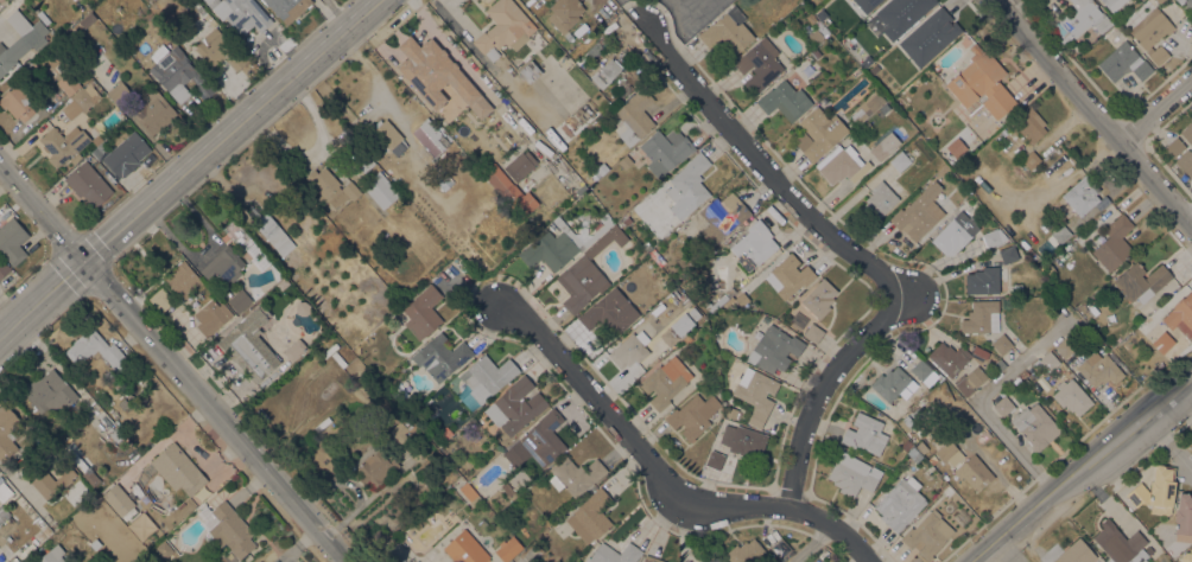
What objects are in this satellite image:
building: (1178, 0)
building: (1159, 1)
building: (1188, 2)
building: (866, 4)
building: (1112, 4)
road: (1004, 5)
building: (287, 7)
road: (686, 7)
building: (565, 13)
building: (240, 14)
building: (901, 14)
building: (1085, 18)
building: (88, 19)
building: (502, 28)
building: (728, 31)
building: (1150, 33)
building: (816, 36)
building: (930, 37)
building: (1114, 37)
building: (1063, 38)
building: (21, 39)
building: (595, 46)
building: (218, 49)
building: (816, 52)
building: (516, 60)
building: (1124, 62)
building: (759, 64)
building: (530, 71)
building: (177, 72)
building: (605, 72)
building: (437, 75)
building: (69, 83)
building: (982, 83)
building: (119, 91)
building: (82, 98)
building: (785, 101)
building: (17, 102)
building: (867, 106)
building: (886, 109)
building: (583, 110)
road: (1092, 110)
building: (153, 111)
road: (1158, 113)
building: (635, 116)
building: (1029, 124)
building: (818, 133)
building: (1187, 133)
building: (388, 136)
building: (430, 136)
building: (852, 138)
building: (63, 143)
building: (1174, 147)
building: (666, 149)
building: (880, 149)
building: (100, 151)
building: (127, 154)
building: (951, 155)
building: (900, 160)
building: (1031, 160)
building: (1186, 161)
building: (364, 162)
building: (626, 162)
building: (838, 162)
building: (521, 165)
road: (188, 166)
building: (943, 168)
road: (766, 171)
building: (596, 175)
building: (443, 180)
building: (88, 184)
building: (689, 186)
building: (331, 187)
building: (382, 190)
building: (509, 190)
building: (581, 190)
building: (1082, 194)
building: (879, 200)
road: (1188, 211)
building: (919, 212)
building: (584, 215)
building: (722, 217)
building: (627, 221)
building: (956, 232)
building: (1060, 234)
building: (274, 235)
building: (994, 236)
building: (12, 238)
building: (1114, 243)
building: (560, 244)
building: (754, 245)
building: (1009, 254)
building: (657, 257)
building: (223, 264)
building: (4, 268)
building: (1047, 268)
building: (341, 270)
building: (589, 270)
building: (788, 275)
building: (182, 279)
building: (983, 280)
building: (1141, 281)
building: (283, 282)
building: (819, 298)
building: (160, 299)
building: (741, 299)
building: (239, 300)
building: (303, 307)
building: (423, 312)
building: (609, 312)
building: (979, 315)
building: (1181, 315)
building: (211, 317)
building: (679, 325)
building: (813, 333)
building: (670, 334)
building: (1161, 341)
building: (304, 344)
building: (1002, 344)
building: (249, 346)
building: (1065, 346)
building: (630, 349)
building: (775, 349)
building: (97, 350)
building: (292, 351)
building: (440, 356)
building: (949, 358)
building: (338, 359)
building: (1048, 360)
road: (173, 364)
building: (1000, 364)
building: (921, 369)
building: (1098, 369)
building: (488, 373)
building: (970, 379)
building: (665, 381)
building: (890, 383)
building: (368, 387)
road: (826, 389)
building: (53, 390)
building: (756, 394)
building: (1072, 396)
road: (981, 397)
building: (123, 403)
building: (1003, 405)
building: (385, 407)
building: (515, 407)
building: (896, 409)
building: (731, 411)
building: (692, 415)
building: (915, 420)
building: (322, 423)
building: (1035, 426)
building: (110, 428)
building: (400, 429)
building: (8, 430)
building: (444, 432)
road: (1161, 432)
building: (866, 433)
building: (743, 440)
building: (539, 441)
building: (906, 445)
building: (921, 446)
building: (946, 452)
building: (914, 454)
building: (932, 459)
building: (715, 460)
road: (1184, 461)
building: (378, 467)
road: (1080, 467)
building: (175, 470)
building: (974, 472)
building: (575, 474)
building: (852, 474)
building: (90, 477)
road: (660, 478)
building: (52, 479)
building: (507, 487)
building: (4, 491)
building: (1156, 491)
building: (469, 493)
building: (119, 499)
building: (900, 503)
building: (511, 512)
building: (4, 513)
building: (590, 516)
building: (1184, 517)
building: (227, 528)
building: (926, 534)
building: (1121, 543)
road: (810, 545)
building: (164, 548)
building: (465, 548)
building: (780, 548)
building: (507, 549)
building: (746, 551)
building: (1076, 553)
building: (615, 554)
building: (52, 555)
building: (1186, 556)
road: (526, 557)
building: (652, 558)
building: (710, 558)
building: (69, 561)
building: (258, 561)
building: (511, 561)

